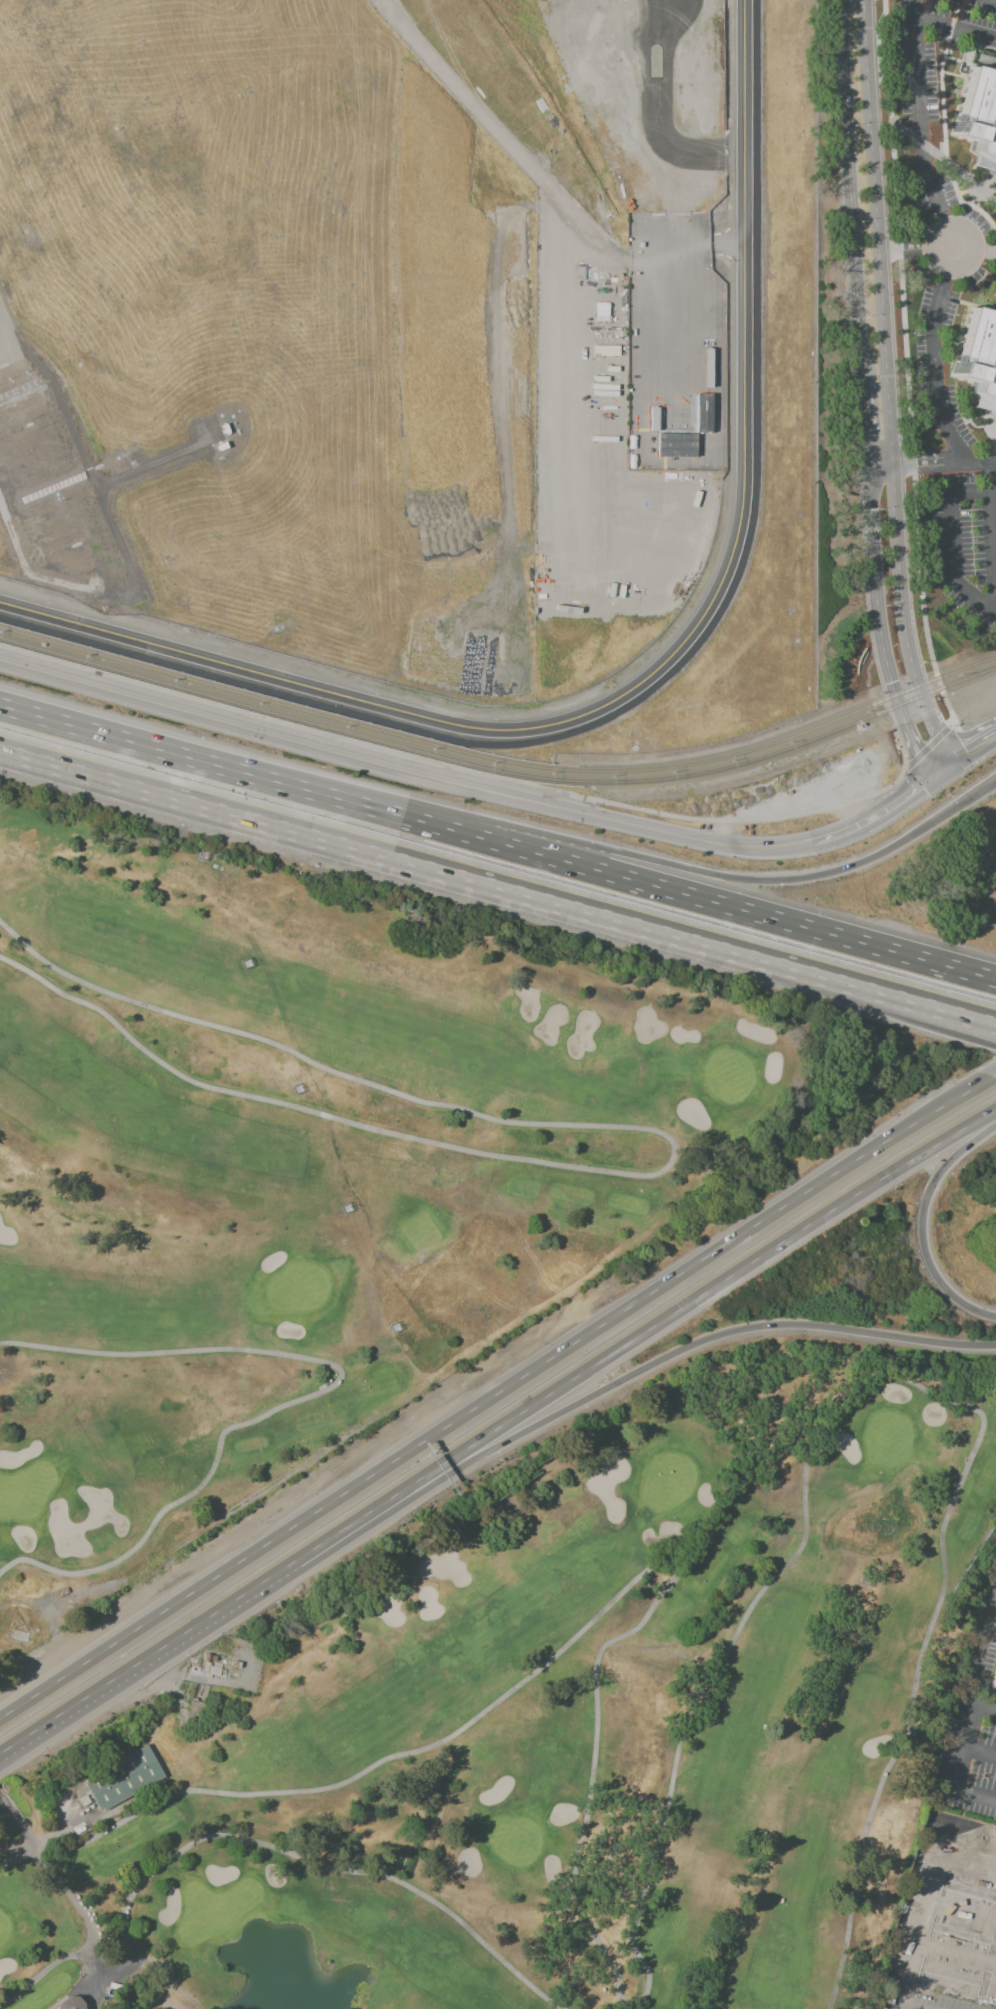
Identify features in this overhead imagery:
road: (955, 26)
parking lot: (919, 86)
road: (657, 110)
building: (976, 113)
road: (918, 115)
road: (944, 160)
road: (851, 187)
road: (966, 189)
road: (977, 208)
road: (995, 236)
road: (905, 251)
road: (976, 253)
road: (976, 305)
airport: (366, 325)
building: (971, 357)
road: (886, 362)
road: (905, 362)
road: (932, 366)
building: (703, 413)
road: (864, 419)
building: (670, 436)
road: (931, 461)
parking lot: (967, 544)
road: (874, 592)
road: (984, 603)
road: (658, 667)
railway: (247, 695)
railway: (242, 705)
road: (962, 735)
road: (937, 744)
road: (928, 745)
road: (916, 748)
railway: (752, 751)
road: (972, 753)
railway: (747, 763)
road: (228, 766)
traffic signals: (949, 768)
road: (398, 770)
road: (941, 773)
road: (471, 774)
traffic signals: (933, 779)
road: (871, 819)
road: (737, 878)
road: (498, 889)
road: (725, 905)
road: (990, 1079)
road: (673, 1154)
park: (331, 1174)
road: (925, 1224)
road: (659, 1286)
road: (690, 1303)
road: (677, 1353)
road: (306, 1398)
road: (169, 1607)
road: (194, 1627)
building: (994, 1684)
road: (982, 1707)
road: (964, 1717)
park: (551, 1724)
road: (976, 1753)
building: (122, 1779)
road: (19, 1856)
road: (311, 1860)
road: (53, 1871)
road: (922, 1904)
road: (960, 1906)
building: (970, 1922)
road: (634, 1927)
road: (955, 1949)
road: (38, 1975)
road: (89, 1982)
building: (109, 1991)
road: (947, 1994)
road: (994, 2002)
building: (71, 2003)

